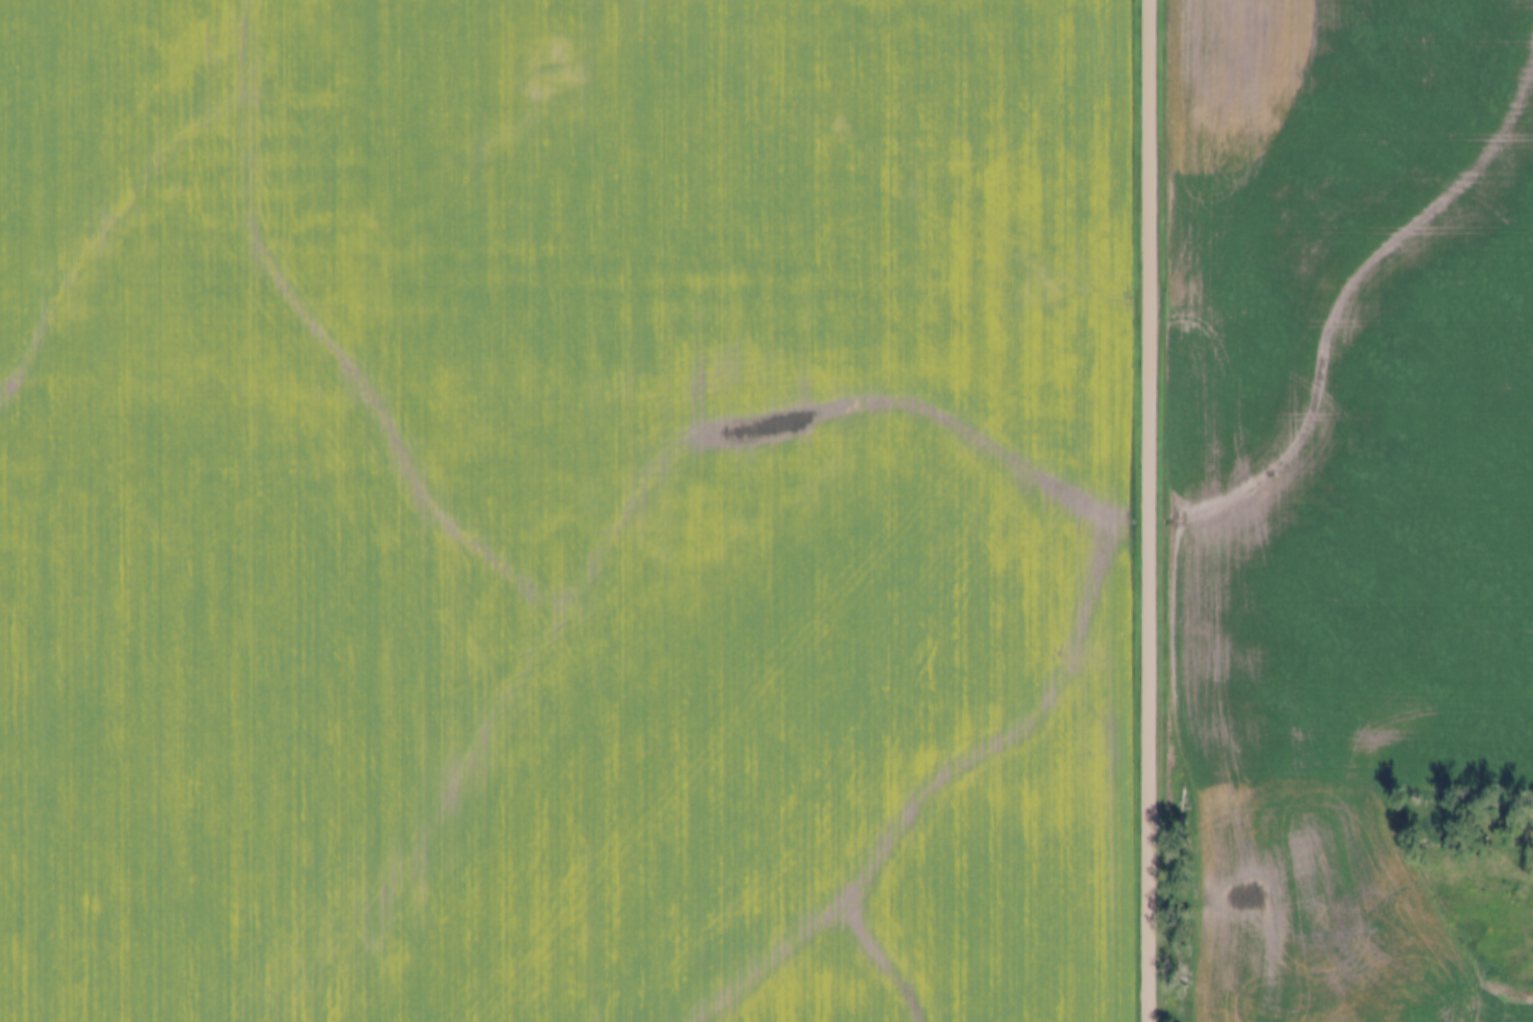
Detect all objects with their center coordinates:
road: (1155, 511)

